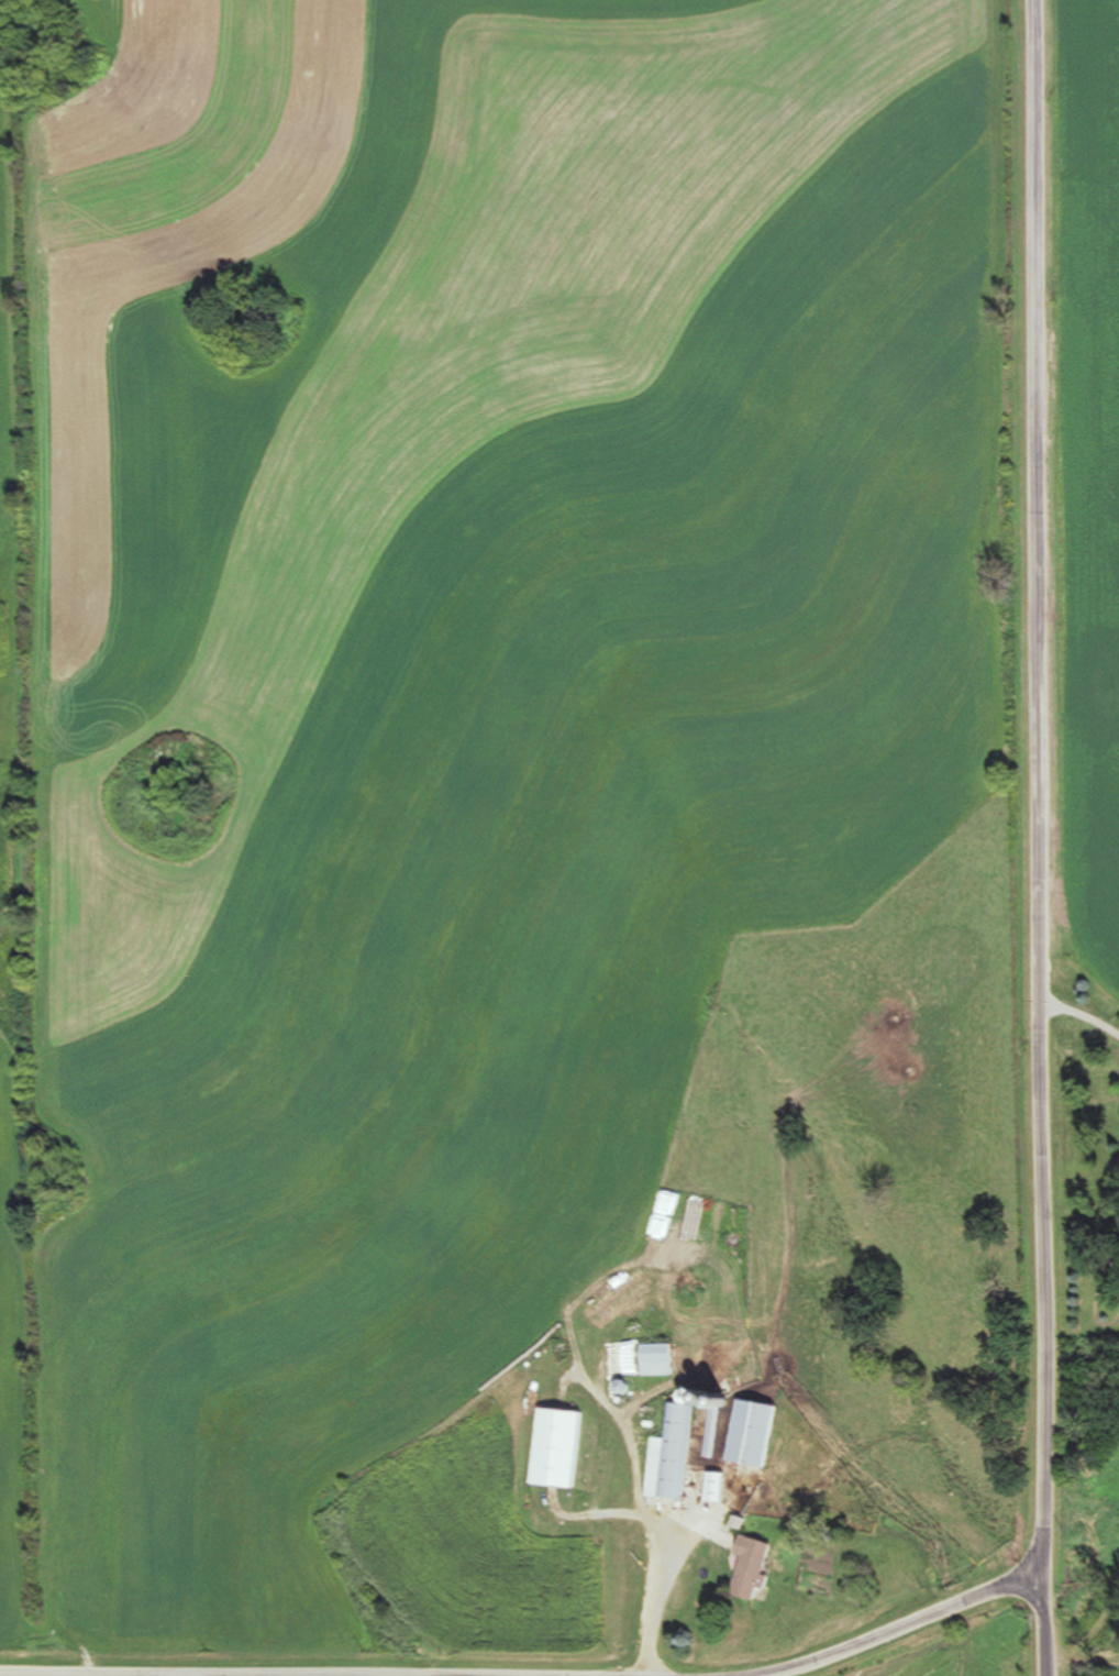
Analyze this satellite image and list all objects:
road: (1009, 837)
building: (658, 1359)
building: (757, 1434)
building: (561, 1448)
building: (676, 1452)
building: (718, 1488)
building: (758, 1568)
road: (513, 1621)

